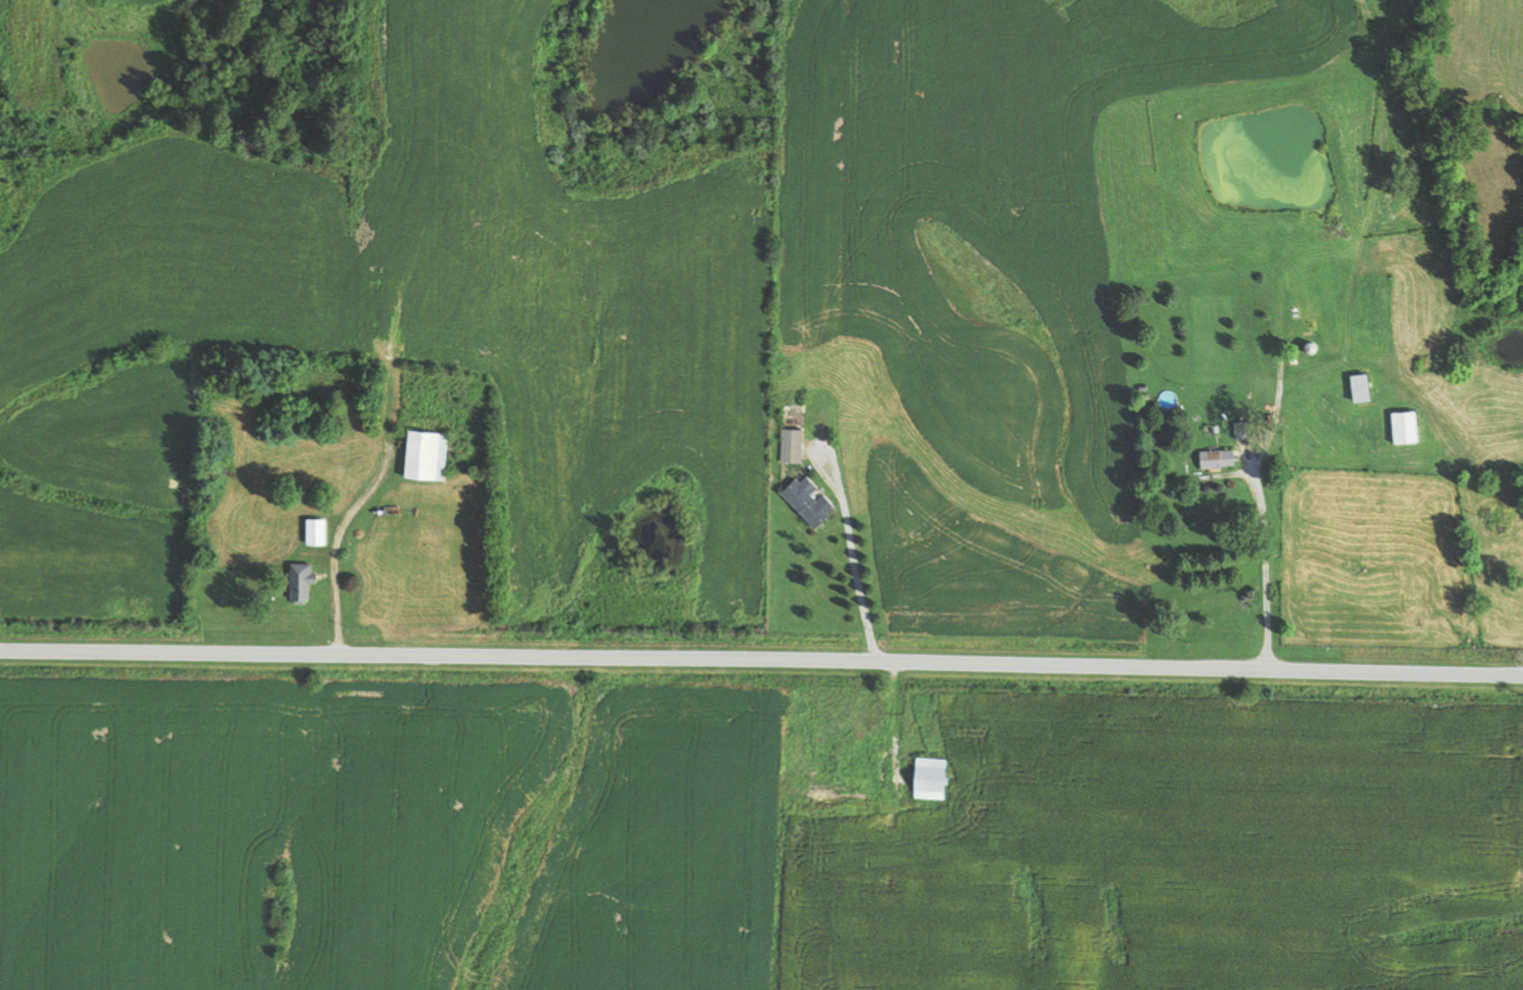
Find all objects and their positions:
building: (1356, 387)
building: (1401, 427)
building: (790, 445)
building: (422, 454)
building: (1214, 458)
building: (805, 501)
building: (313, 532)
road: (329, 547)
road: (847, 555)
road: (1261, 565)
building: (298, 583)
road: (761, 659)
building: (926, 777)

